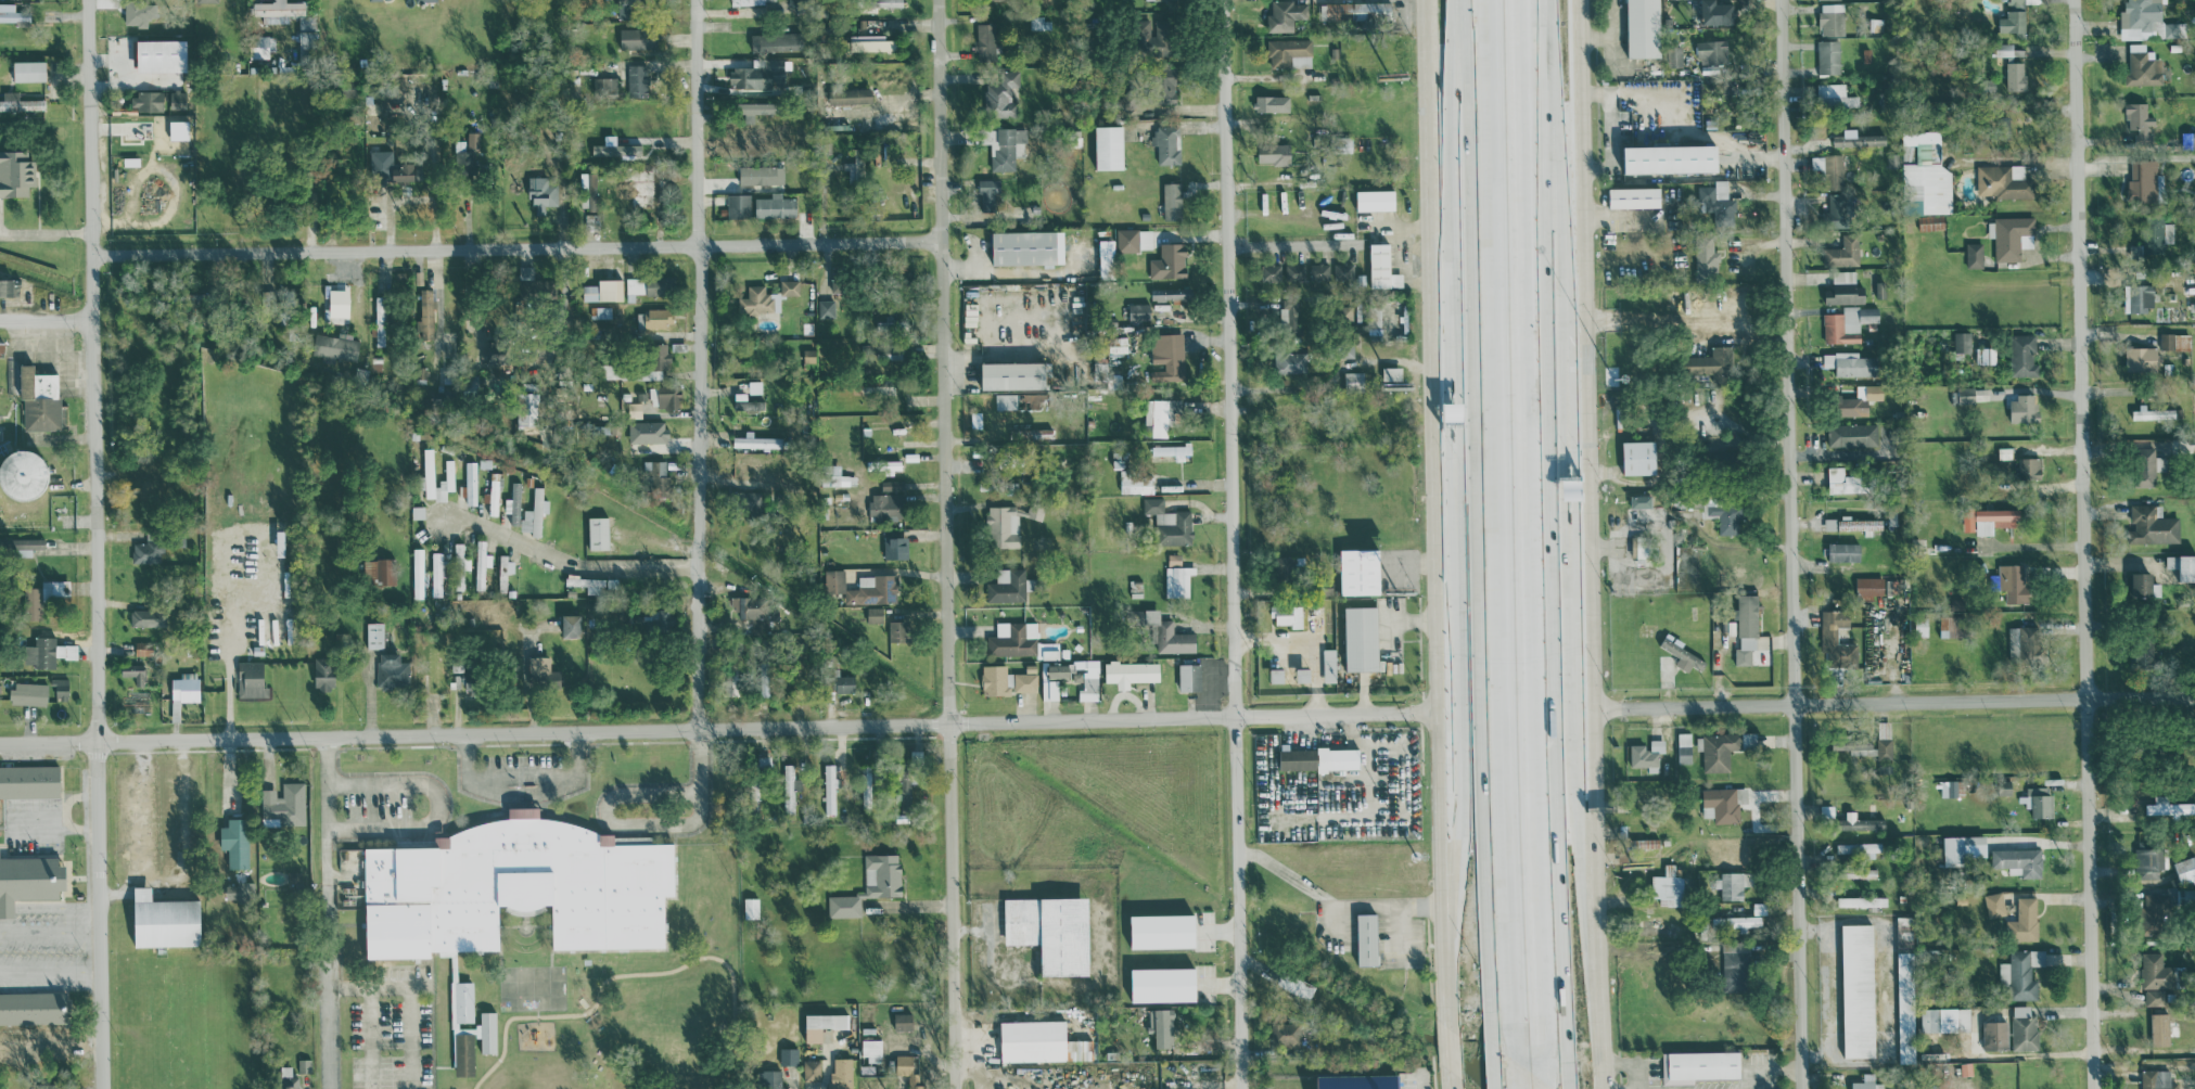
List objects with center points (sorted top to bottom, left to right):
building: (370, 0)
building: (424, 0)
building: (206, 1)
building: (751, 1)
building: (876, 4)
building: (626, 9)
building: (1354, 10)
building: (1286, 12)
building: (1717, 12)
building: (12, 13)
building: (2015, 17)
building: (1832, 18)
building: (2145, 21)
building: (1037, 22)
building: (1644, 28)
building: (306, 30)
building: (635, 37)
building: (1153, 37)
building: (985, 40)
building: (776, 41)
building: (870, 42)
building: (260, 47)
building: (2008, 49)
building: (1290, 51)
building: (1712, 51)
building: (161, 54)
building: (1674, 55)
building: (1828, 56)
building: (2143, 66)
building: (28, 71)
building: (760, 74)
building: (2018, 75)
building: (638, 79)
building: (605, 86)
building: (1164, 88)
building: (1001, 94)
building: (850, 95)
building: (1835, 95)
building: (177, 100)
building: (146, 101)
building: (20, 103)
building: (1272, 103)
building: (756, 110)
road: (697, 121)
building: (2140, 123)
building: (178, 129)
building: (472, 139)
building: (1858, 139)
building: (2187, 139)
building: (1166, 143)
building: (1005, 146)
building: (1109, 146)
building: (616, 149)
building: (1274, 153)
building: (463, 156)
building: (1670, 158)
building: (1817, 162)
road: (1558, 166)
building: (388, 168)
building: (1834, 170)
building: (15, 172)
building: (761, 174)
building: (1927, 175)
building: (2142, 180)
building: (2002, 182)
building: (590, 183)
building: (638, 188)
building: (541, 194)
building: (988, 194)
building: (1634, 197)
building: (1172, 200)
building: (1375, 200)
building: (1717, 201)
building: (738, 205)
building: (775, 205)
road: (1466, 207)
building: (1838, 210)
road: (1402, 227)
road: (44, 231)
building: (2009, 235)
building: (2153, 238)
building: (1127, 240)
road: (1285, 243)
road: (516, 246)
road: (1417, 246)
building: (1028, 247)
building: (1843, 252)
building: (1107, 255)
building: (1974, 255)
building: (1706, 258)
building: (1170, 261)
road: (1405, 264)
building: (1382, 267)
building: (1343, 271)
building: (1272, 272)
building: (1294, 272)
building: (1319, 273)
river: (41, 276)
building: (653, 285)
building: (790, 286)
building: (9, 287)
building: (634, 287)
building: (1845, 289)
building: (603, 290)
building: (537, 293)
river: (93, 294)
road: (438, 294)
building: (1172, 294)
building: (2139, 297)
building: (758, 300)
building: (335, 303)
building: (826, 308)
building: (603, 311)
building: (1138, 311)
building: (1289, 313)
building: (425, 315)
building: (654, 318)
building: (380, 320)
road: (46, 322)
building: (1848, 323)
building: (2174, 341)
building: (1960, 343)
building: (1118, 344)
building: (335, 346)
building: (493, 349)
building: (894, 355)
building: (2022, 355)
building: (808, 357)
building: (1167, 357)
building: (2141, 358)
building: (654, 361)
building: (1290, 362)
building: (1850, 363)
building: (1711, 364)
building: (612, 370)
building: (1014, 375)
building: (1391, 377)
building: (1354, 381)
road: (1565, 381)
building: (755, 386)
building: (875, 388)
river: (404, 394)
building: (1969, 395)
building: (665, 396)
building: (39, 399)
building: (1006, 400)
building: (1859, 400)
building: (746, 401)
building: (2024, 408)
building: (635, 410)
building: (527, 412)
building: (2154, 413)
building: (1158, 417)
building: (648, 432)
building: (1852, 434)
building: (756, 441)
building: (1173, 450)
toll booth: (1462, 456)
road: (1566, 457)
building: (1639, 457)
building: (888, 464)
building: (2147, 465)
building: (2030, 467)
building: (429, 470)
building: (23, 475)
building: (837, 476)
building: (656, 477)
building: (1846, 481)
building: (471, 483)
road: (698, 485)
toll booth: (1567, 487)
building: (494, 494)
building: (888, 499)
road: (1460, 500)
building: (750, 501)
building: (1641, 501)
building: (515, 503)
building: (1035, 510)
building: (535, 513)
road: (1432, 514)
building: (1723, 514)
building: (1989, 520)
building: (1169, 523)
building: (1829, 523)
building: (1861, 524)
building: (2153, 525)
building: (1003, 526)
road: (1503, 530)
road: (1568, 531)
building: (598, 533)
road: (1526, 538)
river: (695, 539)
road: (93, 544)
road: (947, 544)
road: (1229, 544)
road: (1590, 544)
road: (1791, 544)
road: (2083, 544)
building: (24, 546)
building: (148, 548)
building: (895, 548)
building: (1642, 550)
building: (1843, 552)
building: (1174, 559)
road: (565, 563)
building: (482, 564)
building: (460, 566)
building: (2183, 566)
building: (506, 567)
building: (1687, 567)
building: (1282, 569)
building: (379, 572)
building: (1360, 572)
building: (418, 573)
building: (436, 573)
building: (1178, 580)
building: (2009, 582)
building: (2145, 585)
building: (1007, 586)
building: (862, 587)
building: (1868, 587)
building: (42, 597)
building: (751, 607)
building: (875, 614)
building: (1288, 615)
building: (148, 617)
building: (661, 619)
building: (757, 624)
river: (815, 625)
building: (571, 626)
building: (1951, 626)
building: (897, 630)
building: (1747, 630)
building: (374, 635)
building: (1169, 635)
building: (1835, 638)
building: (1013, 639)
building: (1362, 639)
building: (2020, 641)
building: (143, 648)
building: (48, 652)
building: (1681, 653)
building: (1329, 665)
building: (392, 670)
building: (1058, 671)
building: (135, 672)
road: (229, 672)
building: (323, 672)
building: (1131, 672)
building: (543, 674)
building: (1303, 675)
building: (1277, 676)
building: (1187, 677)
road: (1456, 677)
building: (251, 679)
building: (1026, 679)
building: (1088, 679)
building: (996, 680)
building: (763, 681)
building: (844, 682)
building: (730, 683)
building: (60, 687)
building: (28, 693)
road: (1893, 701)
road: (716, 726)
river: (967, 728)
building: (1684, 747)
building: (1872, 747)
building: (1719, 751)
building: (1647, 754)
building: (1318, 758)
road: (1569, 766)
building: (1885, 770)
road: (522, 773)
building: (29, 780)
building: (905, 781)
building: (788, 787)
building: (829, 787)
building: (752, 793)
road: (523, 794)
building: (866, 795)
road: (67, 799)
building: (2038, 800)
building: (1723, 803)
building: (286, 806)
road: (439, 806)
building: (2168, 806)
building: (1859, 821)
road: (641, 823)
road: (60, 829)
building: (235, 841)
building: (1646, 842)
building: (1859, 847)
building: (1965, 848)
building: (2018, 860)
building: (2149, 860)
building: (2185, 869)
building: (1862, 872)
building: (28, 880)
building: (869, 884)
building: (1732, 884)
building: (1672, 887)
building: (515, 888)
building: (242, 889)
building: (1862, 900)
building: (1994, 904)
road: (1335, 906)
building: (751, 907)
building: (2164, 908)
road: (328, 912)
building: (165, 919)
river: (1262, 919)
building: (1021, 920)
building: (1744, 920)
building: (2024, 920)
road: (1335, 921)
building: (1650, 927)
building: (1162, 930)
road: (51, 931)
road: (1403, 932)
building: (1064, 935)
building: (1367, 938)
building: (1736, 965)
building: (2156, 971)
road: (51, 973)
road: (630, 973)
building: (2021, 973)
building: (1163, 983)
building: (1296, 984)
road: (380, 986)
building: (1859, 989)
building: (2155, 996)
building: (1906, 1005)
building: (33, 1007)
building: (1945, 1018)
building: (822, 1024)
building: (1161, 1025)
building: (2024, 1027)
building: (2164, 1027)
building: (903, 1029)
building: (1285, 1033)
building: (1995, 1034)
road: (411, 1037)
road: (372, 1038)
building: (1041, 1041)
building: (871, 1047)
road: (1450, 1048)
building: (789, 1055)
building: (304, 1064)
building: (1699, 1065)
building: (812, 1069)
road: (1768, 1071)
building: (908, 1072)
building: (841, 1074)
road: (1518, 1075)
building: (288, 1078)
building: (769, 1079)
road: (1451, 1079)
building: (2157, 1079)
building: (1357, 1080)
road: (1421, 1080)
building: (1867, 1082)
road: (1541, 1084)
building: (53, 1086)

